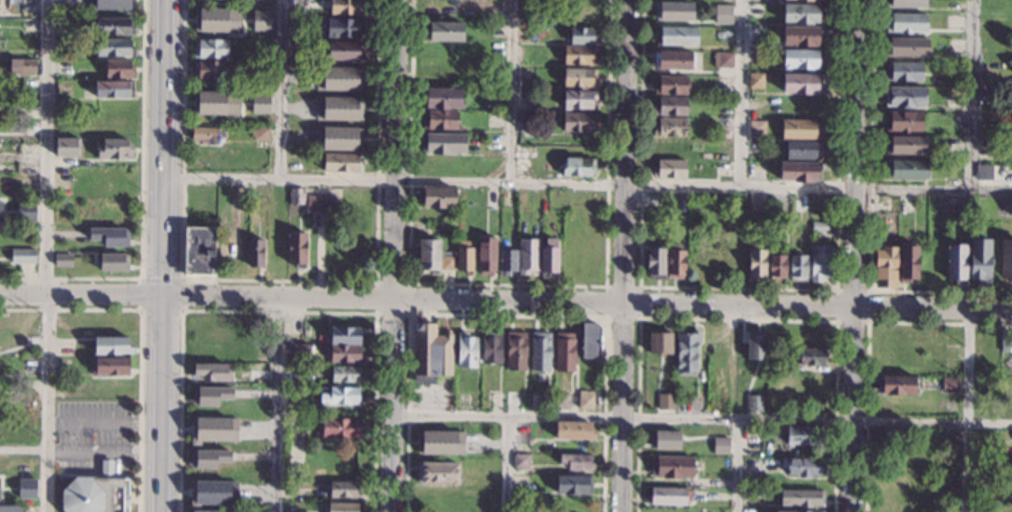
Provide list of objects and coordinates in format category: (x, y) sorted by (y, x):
building: (819, 0)
building: (803, 1)
building: (113, 4)
building: (904, 4)
building: (347, 7)
building: (674, 11)
building: (723, 13)
building: (802, 14)
building: (217, 19)
building: (262, 20)
building: (906, 23)
building: (113, 27)
building: (344, 28)
building: (443, 32)
building: (582, 36)
building: (675, 36)
building: (802, 36)
building: (906, 47)
building: (113, 48)
building: (210, 49)
building: (345, 51)
building: (579, 56)
building: (801, 59)
building: (722, 60)
building: (672, 61)
building: (20, 67)
building: (118, 69)
building: (210, 70)
building: (903, 72)
building: (334, 78)
building: (579, 78)
building: (755, 81)
building: (801, 84)
building: (671, 85)
road: (280, 89)
building: (114, 90)
road: (509, 91)
road: (742, 93)
road: (972, 94)
building: (442, 98)
building: (905, 98)
building: (578, 100)
building: (218, 101)
building: (260, 101)
building: (669, 107)
building: (336, 108)
road: (163, 111)
building: (440, 120)
building: (903, 121)
building: (524, 123)
building: (578, 123)
building: (669, 127)
building: (757, 128)
building: (800, 129)
building: (261, 133)
building: (207, 135)
building: (336, 138)
building: (443, 144)
building: (905, 145)
building: (67, 148)
building: (668, 148)
building: (114, 149)
building: (802, 150)
building: (342, 162)
building: (576, 167)
building: (669, 169)
building: (905, 170)
building: (799, 172)
building: (983, 172)
road: (586, 184)
building: (296, 196)
building: (439, 199)
building: (656, 200)
building: (756, 203)
building: (320, 204)
road: (141, 208)
building: (1, 211)
building: (26, 211)
building: (674, 211)
road: (870, 215)
building: (819, 227)
building: (110, 236)
building: (296, 249)
building: (200, 250)
building: (254, 253)
road: (393, 255)
road: (624, 255)
building: (22, 256)
road: (48, 256)
building: (429, 256)
building: (485, 256)
building: (527, 256)
road: (855, 256)
building: (464, 257)
building: (548, 258)
road: (161, 259)
building: (63, 260)
building: (979, 260)
building: (1006, 260)
building: (448, 261)
building: (112, 262)
building: (506, 262)
building: (655, 262)
building: (675, 262)
building: (819, 262)
building: (908, 263)
building: (956, 264)
building: (756, 265)
building: (776, 267)
building: (885, 267)
building: (797, 268)
road: (160, 277)
road: (278, 279)
road: (408, 281)
road: (508, 282)
road: (639, 285)
road: (739, 286)
road: (868, 289)
road: (80, 297)
road: (586, 302)
road: (161, 310)
road: (278, 311)
road: (506, 313)
road: (736, 317)
building: (344, 336)
road: (161, 340)
road: (139, 341)
building: (590, 341)
building: (660, 341)
road: (867, 343)
building: (755, 344)
building: (1006, 344)
building: (110, 346)
building: (491, 348)
building: (466, 351)
building: (515, 351)
building: (295, 352)
building: (539, 352)
building: (564, 352)
building: (686, 352)
building: (344, 354)
building: (430, 354)
building: (810, 357)
building: (776, 364)
building: (110, 366)
building: (322, 371)
building: (212, 372)
building: (344, 375)
building: (317, 383)
building: (950, 384)
building: (895, 386)
building: (210, 395)
building: (339, 396)
building: (585, 400)
building: (560, 401)
building: (664, 401)
building: (754, 403)
road: (276, 405)
road: (970, 410)
road: (701, 417)
road: (103, 422)
building: (339, 428)
building: (214, 431)
building: (574, 431)
building: (805, 435)
parking lot: (91, 437)
building: (664, 439)
building: (440, 441)
building: (719, 444)
road: (160, 447)
road: (103, 451)
building: (208, 458)
building: (521, 461)
building: (576, 462)
road: (505, 463)
building: (671, 465)
road: (738, 465)
building: (803, 467)
building: (107, 469)
road: (107, 474)
building: (437, 474)
building: (573, 484)
building: (770, 484)
building: (27, 488)
building: (343, 490)
building: (213, 492)
building: (96, 496)
building: (668, 496)
building: (801, 498)
building: (342, 507)
building: (9, 509)
building: (196, 511)
building: (796, 511)

